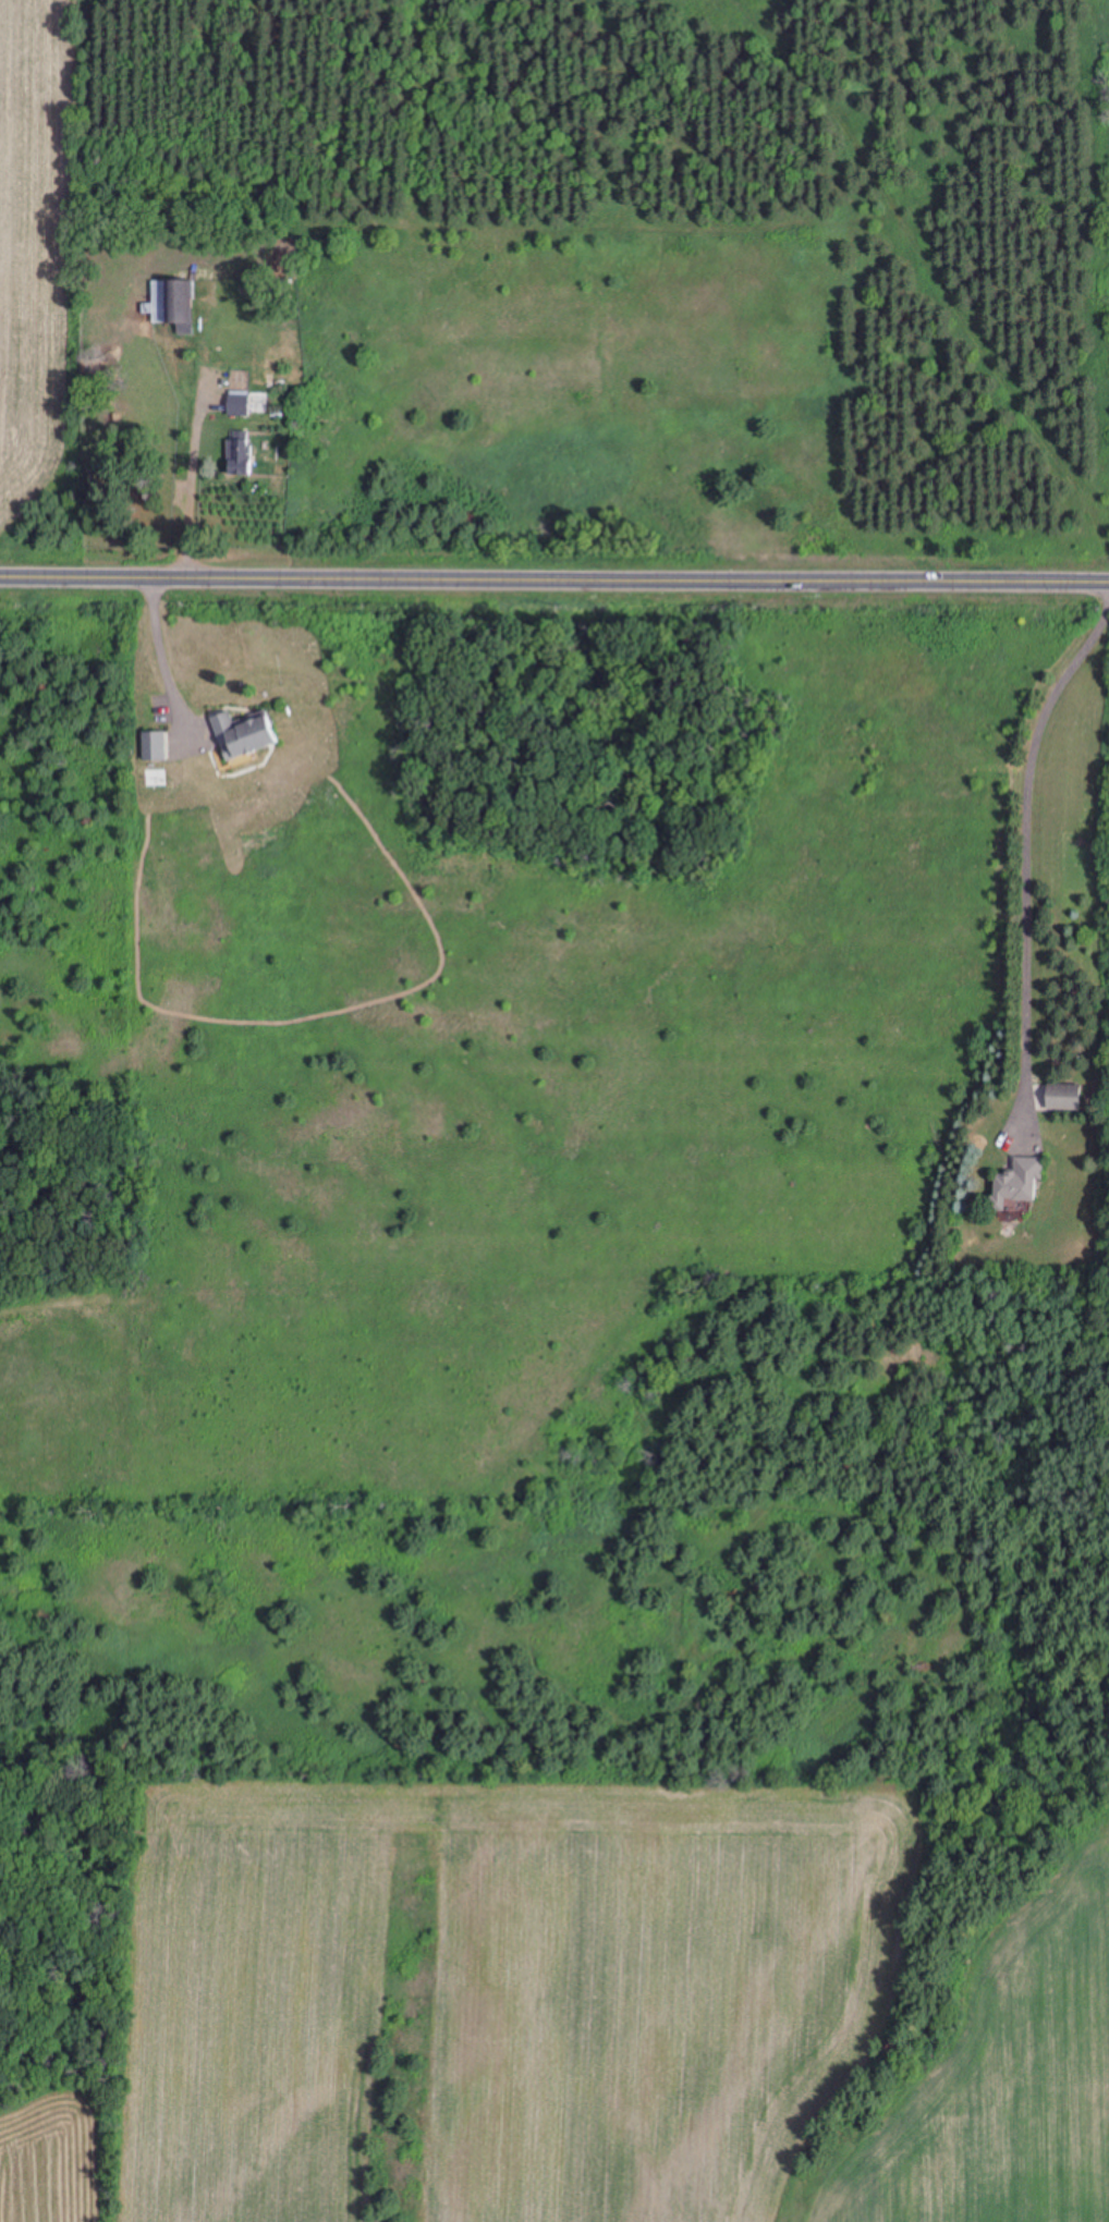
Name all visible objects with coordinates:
building: (171, 303)
building: (235, 405)
building: (236, 453)
road: (554, 573)
building: (239, 734)
building: (151, 746)
building: (1060, 1098)
building: (1014, 1183)

